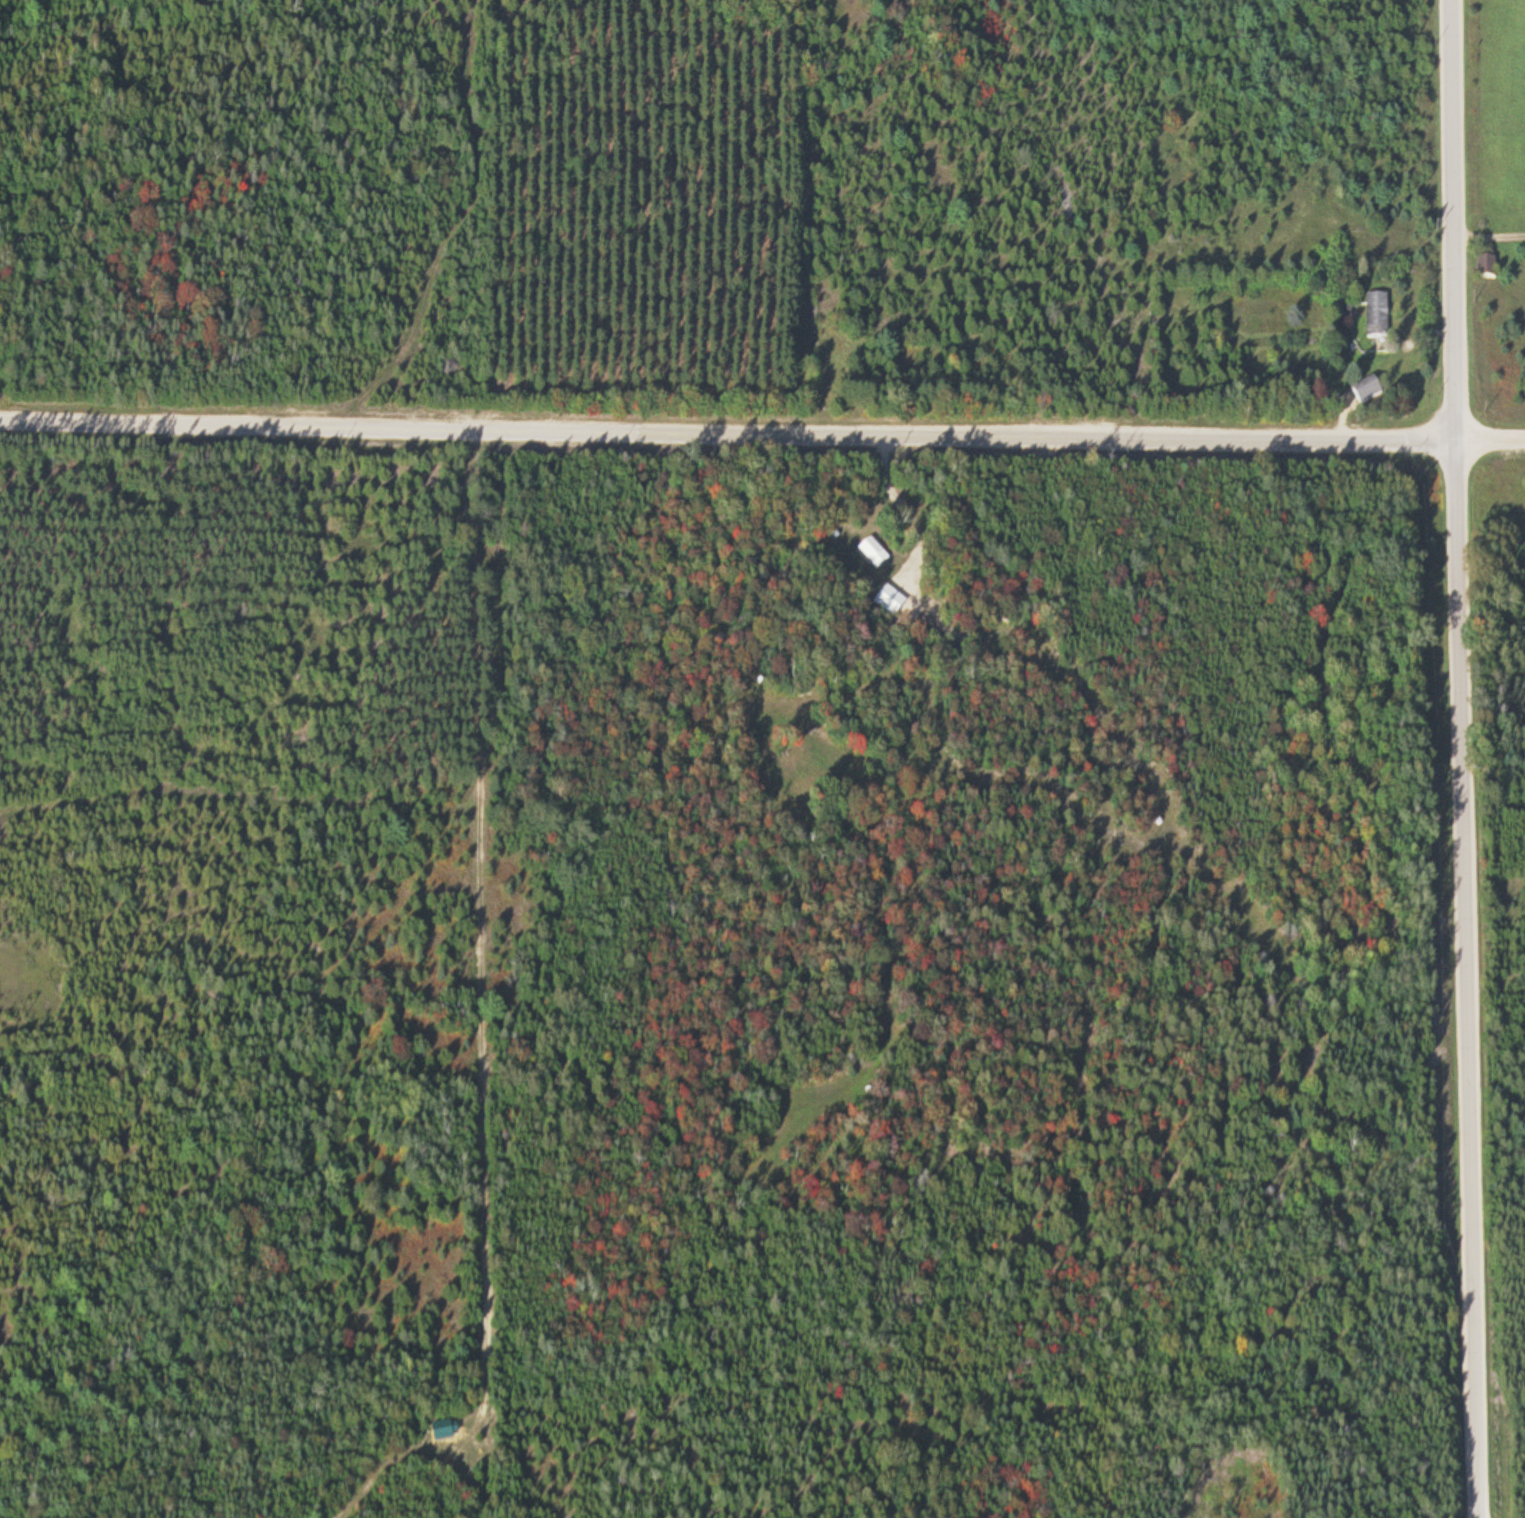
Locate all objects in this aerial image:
road: (461, 224)
building: (1482, 266)
building: (1373, 316)
building: (1362, 390)
road: (733, 435)
road: (1496, 448)
building: (866, 551)
road: (1471, 758)

